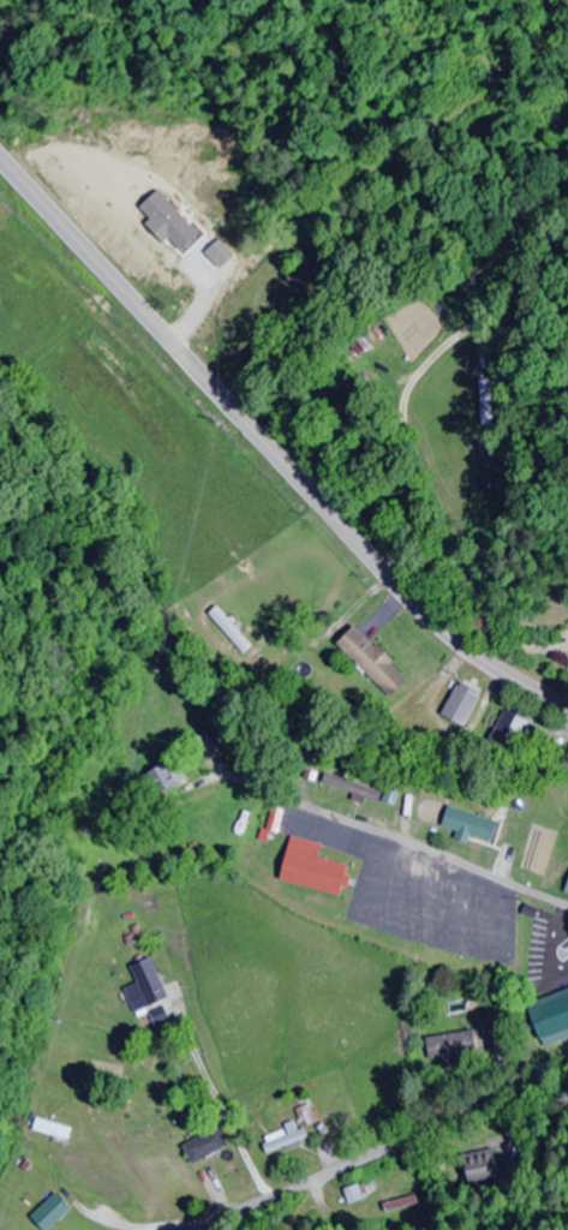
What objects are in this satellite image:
road: (269, 452)
building: (371, 662)
building: (461, 705)
building: (512, 726)
building: (168, 776)
building: (352, 788)
building: (468, 826)
road: (389, 838)
building: (312, 868)
building: (566, 890)
building: (468, 948)
building: (144, 987)
building: (550, 1016)
building: (454, 1049)
building: (52, 1130)
building: (285, 1140)
building: (205, 1146)
road: (388, 1146)
building: (482, 1169)
building: (354, 1195)
building: (402, 1202)

